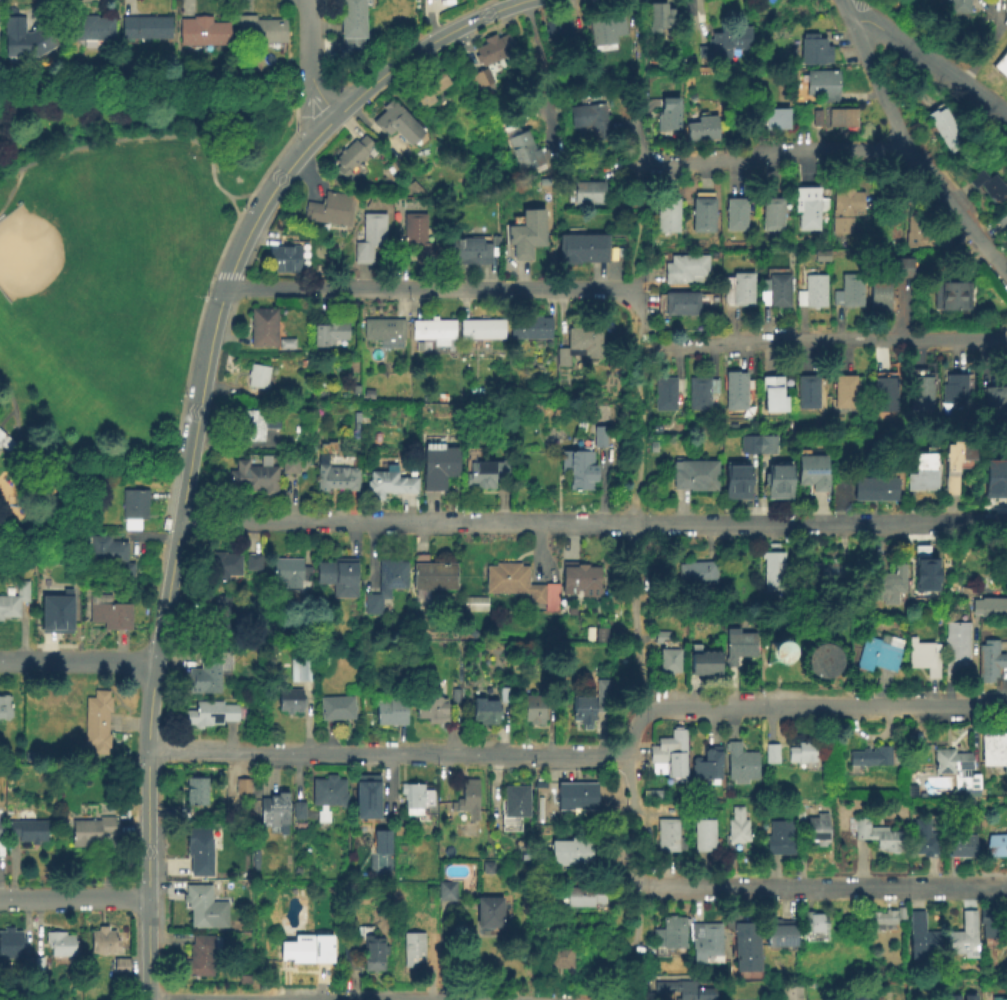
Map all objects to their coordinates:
building: (958, 7)
road: (844, 9)
road: (697, 18)
building: (661, 21)
building: (353, 23)
building: (146, 28)
building: (605, 28)
building: (90, 30)
building: (559, 30)
building: (260, 32)
building: (204, 34)
road: (644, 34)
building: (25, 39)
road: (310, 40)
building: (729, 43)
road: (424, 46)
building: (493, 51)
building: (814, 51)
road: (931, 61)
building: (1002, 67)
road: (542, 74)
building: (483, 81)
building: (823, 85)
building: (430, 86)
road: (322, 98)
building: (736, 110)
road: (116, 113)
building: (841, 118)
building: (668, 119)
building: (816, 119)
building: (592, 121)
building: (775, 121)
building: (398, 126)
building: (702, 130)
building: (946, 131)
road: (640, 135)
road: (148, 136)
building: (524, 153)
road: (760, 154)
road: (912, 156)
building: (352, 157)
road: (609, 174)
building: (988, 190)
road: (12, 192)
building: (588, 194)
building: (753, 206)
building: (810, 209)
building: (329, 211)
building: (845, 211)
road: (238, 215)
building: (736, 215)
building: (703, 216)
building: (772, 216)
building: (667, 217)
building: (1001, 219)
building: (917, 229)
road: (647, 231)
building: (527, 235)
building: (370, 238)
building: (418, 242)
building: (583, 250)
building: (465, 252)
building: (963, 256)
park: (71, 260)
building: (283, 261)
road: (231, 268)
building: (905, 269)
building: (685, 270)
park: (110, 272)
road: (429, 289)
building: (740, 291)
building: (776, 292)
building: (849, 293)
building: (812, 294)
building: (880, 297)
building: (952, 298)
building: (681, 305)
road: (634, 306)
road: (646, 328)
building: (262, 329)
building: (529, 329)
building: (482, 330)
building: (433, 332)
building: (383, 333)
building: (329, 334)
road: (637, 339)
road: (822, 341)
building: (285, 345)
building: (579, 347)
building: (258, 378)
building: (953, 391)
building: (477, 393)
building: (736, 393)
building: (700, 394)
building: (808, 394)
building: (845, 394)
building: (886, 397)
building: (667, 398)
building: (773, 398)
building: (921, 398)
building: (995, 406)
road: (6, 417)
road: (16, 422)
building: (257, 425)
building: (599, 438)
building: (5, 443)
building: (758, 446)
road: (19, 459)
building: (958, 465)
building: (289, 466)
building: (438, 467)
building: (578, 470)
building: (813, 474)
building: (925, 474)
building: (485, 475)
building: (694, 477)
building: (993, 477)
building: (254, 479)
building: (336, 479)
building: (389, 484)
building: (737, 484)
building: (779, 484)
building: (876, 491)
building: (133, 509)
road: (992, 523)
road: (459, 524)
road: (903, 524)
road: (784, 525)
road: (634, 536)
building: (106, 551)
building: (252, 562)
building: (224, 566)
building: (923, 568)
building: (774, 569)
building: (127, 572)
building: (697, 574)
building: (433, 575)
building: (338, 576)
building: (292, 577)
building: (826, 577)
building: (580, 578)
building: (385, 584)
building: (519, 585)
building: (888, 585)
building: (13, 601)
building: (474, 605)
building: (990, 606)
building: (573, 609)
building: (55, 611)
building: (108, 612)
building: (215, 613)
building: (600, 636)
building: (739, 646)
building: (956, 647)
building: (354, 648)
building: (789, 649)
water tower: (789, 649)
building: (776, 651)
building: (667, 653)
building: (879, 653)
building: (924, 657)
road: (78, 660)
building: (826, 661)
water tower: (826, 661)
building: (990, 661)
building: (705, 662)
road: (973, 663)
building: (300, 671)
road: (153, 672)
building: (208, 673)
building: (504, 696)
building: (455, 697)
building: (290, 701)
building: (592, 705)
road: (825, 706)
building: (98, 707)
building: (6, 708)
building: (337, 709)
building: (433, 711)
building: (535, 711)
building: (485, 712)
building: (393, 713)
building: (210, 714)
road: (632, 731)
building: (96, 739)
building: (995, 749)
road: (385, 753)
building: (805, 754)
building: (771, 755)
building: (670, 757)
building: (872, 757)
building: (708, 765)
building: (741, 765)
building: (952, 765)
road: (632, 782)
building: (241, 790)
building: (197, 793)
building: (327, 796)
building: (368, 798)
building: (577, 798)
building: (417, 801)
building: (467, 801)
building: (789, 804)
building: (513, 809)
building: (803, 810)
building: (273, 812)
building: (298, 813)
building: (819, 830)
building: (1, 831)
building: (91, 831)
building: (736, 831)
building: (28, 832)
road: (637, 835)
building: (705, 836)
building: (875, 836)
building: (668, 837)
building: (781, 839)
building: (923, 839)
building: (382, 843)
building: (964, 846)
building: (998, 846)
building: (204, 853)
building: (573, 853)
building: (487, 870)
road: (635, 870)
road: (822, 887)
building: (446, 894)
building: (584, 897)
road: (74, 899)
building: (205, 909)
building: (490, 913)
building: (886, 917)
building: (989, 918)
road: (637, 921)
building: (816, 927)
building: (672, 933)
building: (782, 933)
building: (963, 935)
building: (920, 936)
building: (103, 942)
building: (708, 942)
building: (11, 945)
building: (61, 945)
building: (748, 947)
road: (148, 948)
building: (413, 951)
building: (303, 952)
building: (374, 955)
road: (445, 955)
building: (200, 957)
building: (560, 957)
building: (26, 965)
building: (37, 965)
building: (121, 968)
building: (683, 988)
building: (790, 991)
building: (852, 996)
building: (951, 996)
building: (970, 997)
building: (998, 997)
road: (254, 998)
road: (147, 999)
road: (276, 999)

